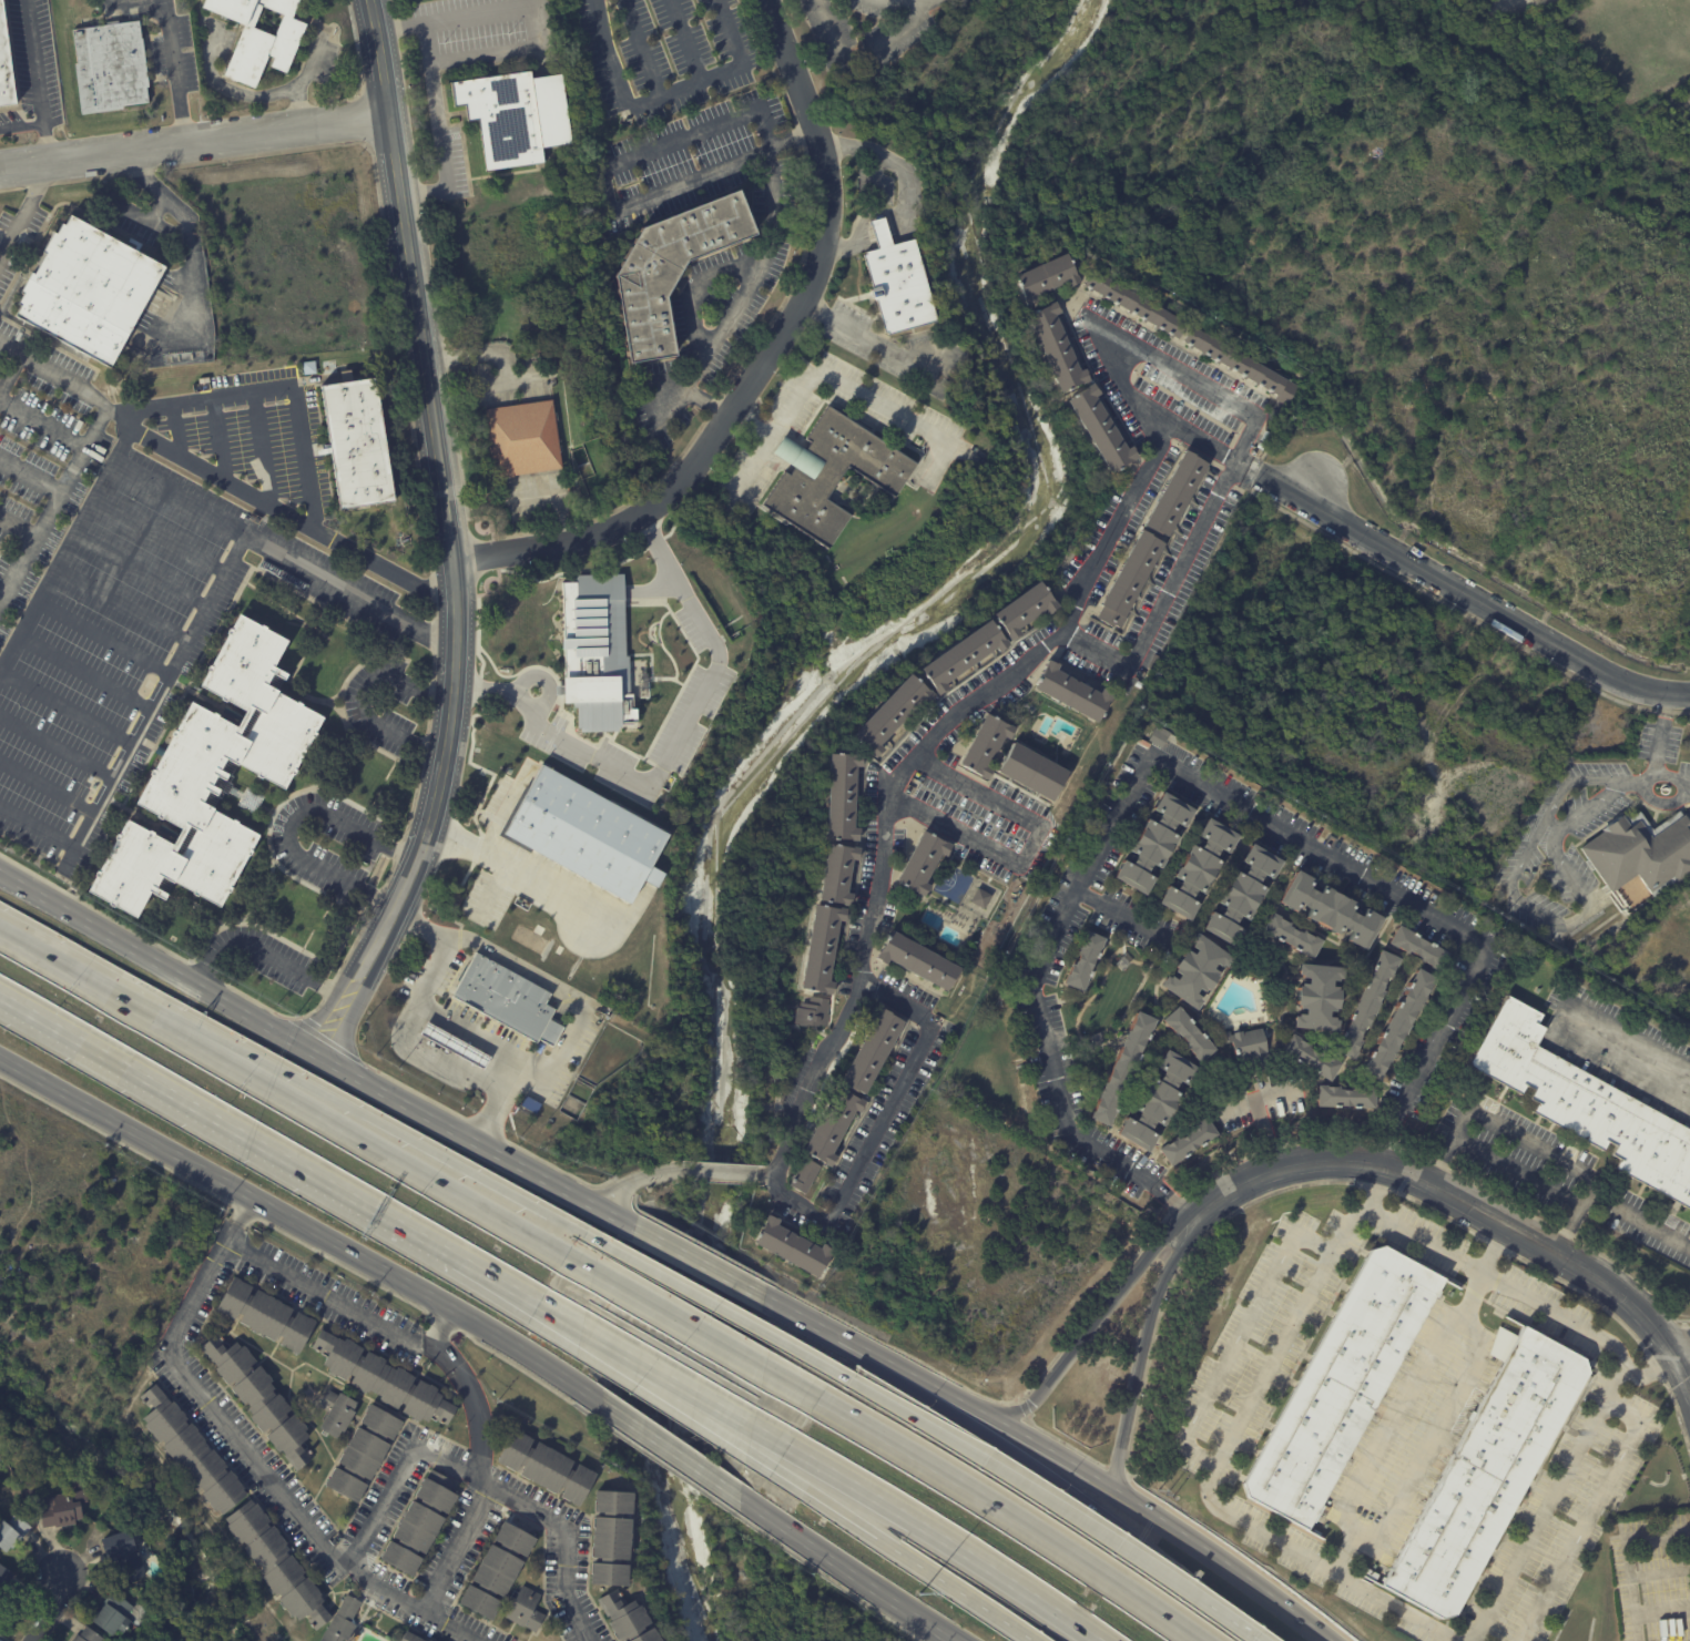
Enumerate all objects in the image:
road: (909, 0)
building: (261, 38)
road: (686, 41)
road: (645, 49)
road: (490, 50)
road: (865, 57)
building: (6, 64)
road: (175, 65)
building: (111, 67)
road: (309, 69)
road: (38, 81)
road: (242, 94)
road: (666, 96)
building: (515, 115)
road: (194, 141)
road: (894, 163)
road: (602, 174)
road: (23, 205)
road: (882, 231)
road: (189, 233)
road: (849, 244)
building: (669, 269)
road: (752, 275)
building: (1043, 277)
building: (897, 283)
building: (90, 289)
building: (1136, 304)
road: (865, 340)
building: (1055, 347)
road: (493, 354)
road: (764, 363)
building: (1242, 365)
building: (329, 366)
building: (308, 367)
road: (10, 370)
road: (68, 378)
building: (205, 384)
road: (493, 384)
road: (844, 385)
road: (211, 395)
road: (41, 421)
road: (175, 428)
building: (1099, 429)
building: (1266, 437)
road: (218, 438)
building: (522, 438)
road: (1199, 440)
building: (358, 441)
building: (1261, 446)
road: (264, 447)
road: (750, 465)
road: (1240, 465)
building: (831, 473)
road: (28, 476)
road: (221, 477)
building: (1175, 493)
road: (177, 496)
road: (556, 497)
road: (51, 499)
road: (17, 524)
road: (157, 532)
road: (450, 537)
road: (139, 568)
road: (1087, 570)
building: (1129, 579)
road: (651, 583)
road: (1463, 595)
road: (119, 604)
building: (1025, 610)
road: (195, 620)
road: (102, 638)
road: (1098, 644)
building: (595, 651)
building: (964, 656)
road: (83, 671)
building: (1139, 684)
building: (1071, 693)
road: (363, 697)
road: (64, 707)
building: (892, 714)
building: (1419, 725)
building: (1160, 737)
building: (985, 745)
road: (54, 746)
road: (1657, 747)
road: (664, 760)
road: (1181, 771)
building: (1031, 773)
road: (1672, 777)
building: (208, 781)
road: (45, 784)
building: (841, 797)
road: (292, 823)
building: (1494, 830)
building: (586, 833)
building: (1423, 833)
building: (1051, 843)
road: (1025, 846)
building: (1152, 846)
building: (1642, 853)
building: (922, 863)
road: (520, 872)
building: (1198, 872)
building: (837, 875)
park: (953, 884)
building: (1243, 895)
building: (981, 899)
building: (1332, 910)
road: (1122, 915)
road: (1545, 915)
building: (1293, 938)
building: (1418, 949)
building: (821, 950)
road: (268, 956)
building: (917, 960)
building: (1085, 962)
building: (1195, 974)
building: (1114, 995)
building: (508, 1000)
building: (1319, 1000)
road: (128, 1001)
building: (1367, 1007)
building: (814, 1015)
building: (1397, 1028)
road: (1623, 1033)
road: (486, 1036)
building: (1189, 1037)
building: (452, 1047)
building: (1251, 1048)
road: (317, 1050)
building: (873, 1051)
building: (1687, 1052)
road: (556, 1060)
building: (1311, 1060)
building: (1122, 1070)
building: (1014, 1079)
road: (1255, 1094)
building: (1346, 1100)
building: (1157, 1102)
building: (529, 1103)
building: (1587, 1105)
road: (492, 1114)
road: (223, 1123)
road: (879, 1123)
building: (832, 1127)
road: (1268, 1128)
road: (1388, 1139)
road: (420, 1144)
building: (1189, 1144)
road: (410, 1163)
road: (720, 1170)
road: (767, 1172)
road: (1543, 1174)
building: (805, 1176)
road: (641, 1178)
road: (1375, 1186)
road: (1171, 1196)
road: (1463, 1204)
road: (306, 1226)
building: (792, 1246)
road: (1493, 1247)
road: (710, 1257)
road: (493, 1276)
road: (1493, 1276)
road: (1472, 1293)
building: (265, 1316)
road: (1447, 1316)
road: (1095, 1321)
road: (578, 1324)
road: (444, 1326)
road: (693, 1326)
road: (835, 1331)
road: (1146, 1345)
road: (1270, 1349)
road: (1684, 1355)
road: (1652, 1362)
road: (460, 1370)
building: (380, 1379)
building: (1343, 1382)
road: (700, 1393)
building: (258, 1399)
road: (694, 1403)
road: (899, 1406)
building: (334, 1413)
road: (1154, 1441)
road: (251, 1453)
building: (189, 1454)
building: (363, 1454)
road: (673, 1454)
building: (1, 1462)
building: (546, 1468)
building: (1486, 1472)
road: (1120, 1487)
road: (1077, 1498)
building: (55, 1504)
road: (387, 1508)
road: (1012, 1515)
road: (542, 1519)
building: (418, 1523)
building: (12, 1530)
road: (941, 1538)
building: (609, 1539)
road: (898, 1552)
building: (123, 1555)
road: (1305, 1556)
road: (1629, 1560)
building: (274, 1563)
road: (844, 1566)
building: (495, 1571)
building: (1371, 1574)
building: (3, 1578)
road: (1662, 1608)
road: (58, 1610)
building: (526, 1610)
building: (111, 1615)
building: (624, 1619)
building: (342, 1621)
road: (1232, 1622)
building: (88, 1635)
road: (950, 1637)
road: (955, 1637)
building: (408, 1638)

